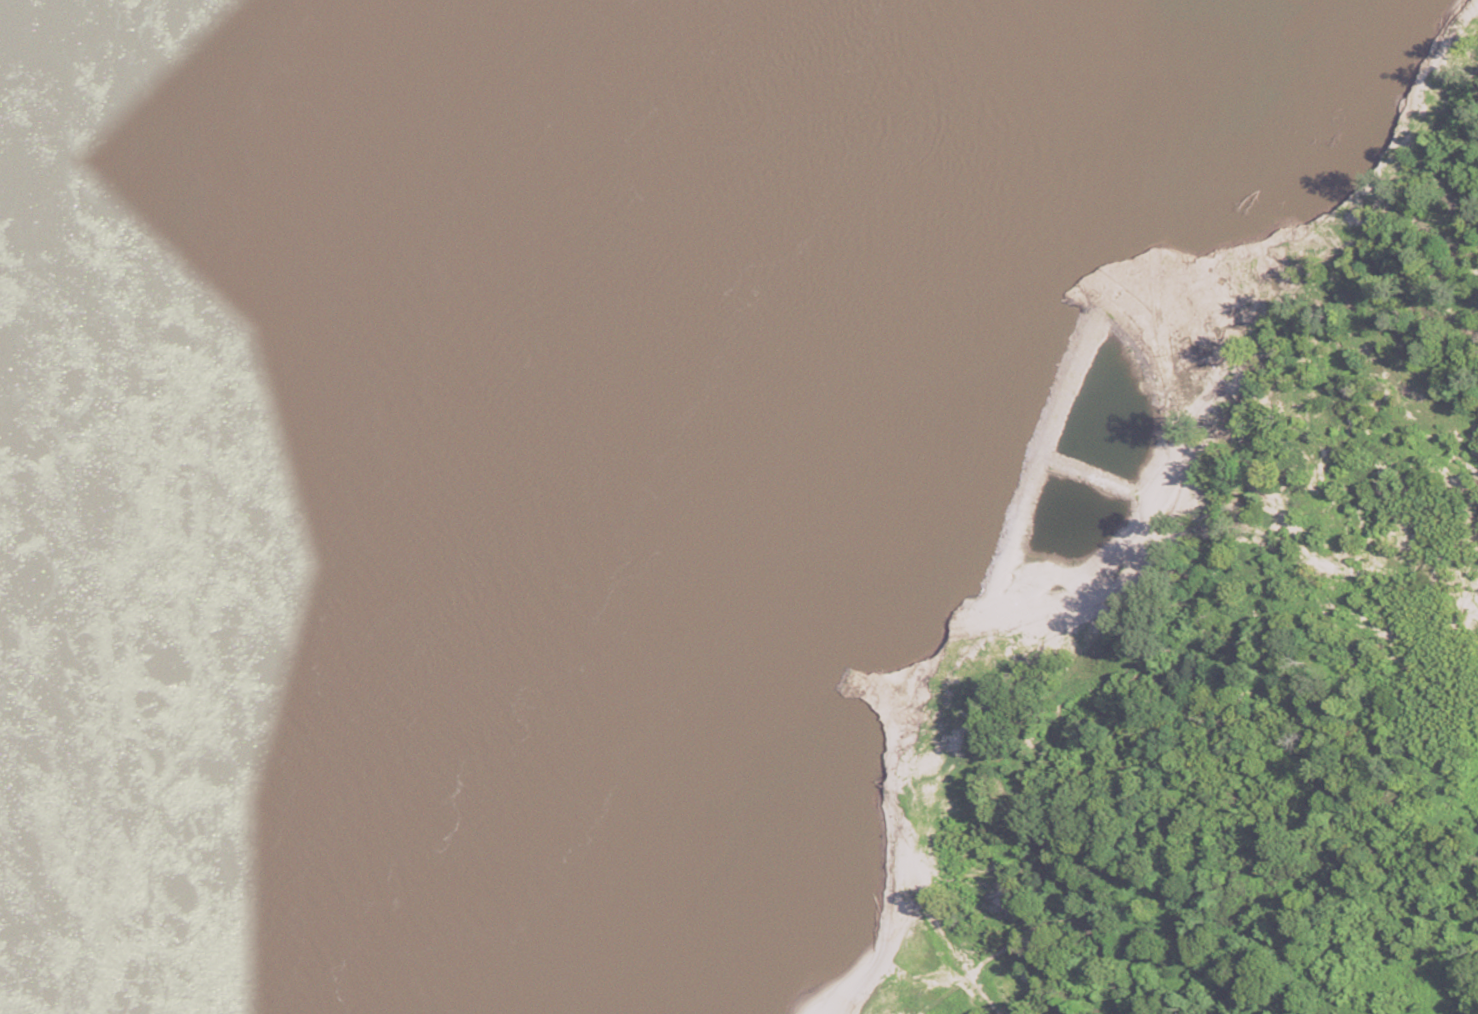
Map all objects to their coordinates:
river: (194, 484)

